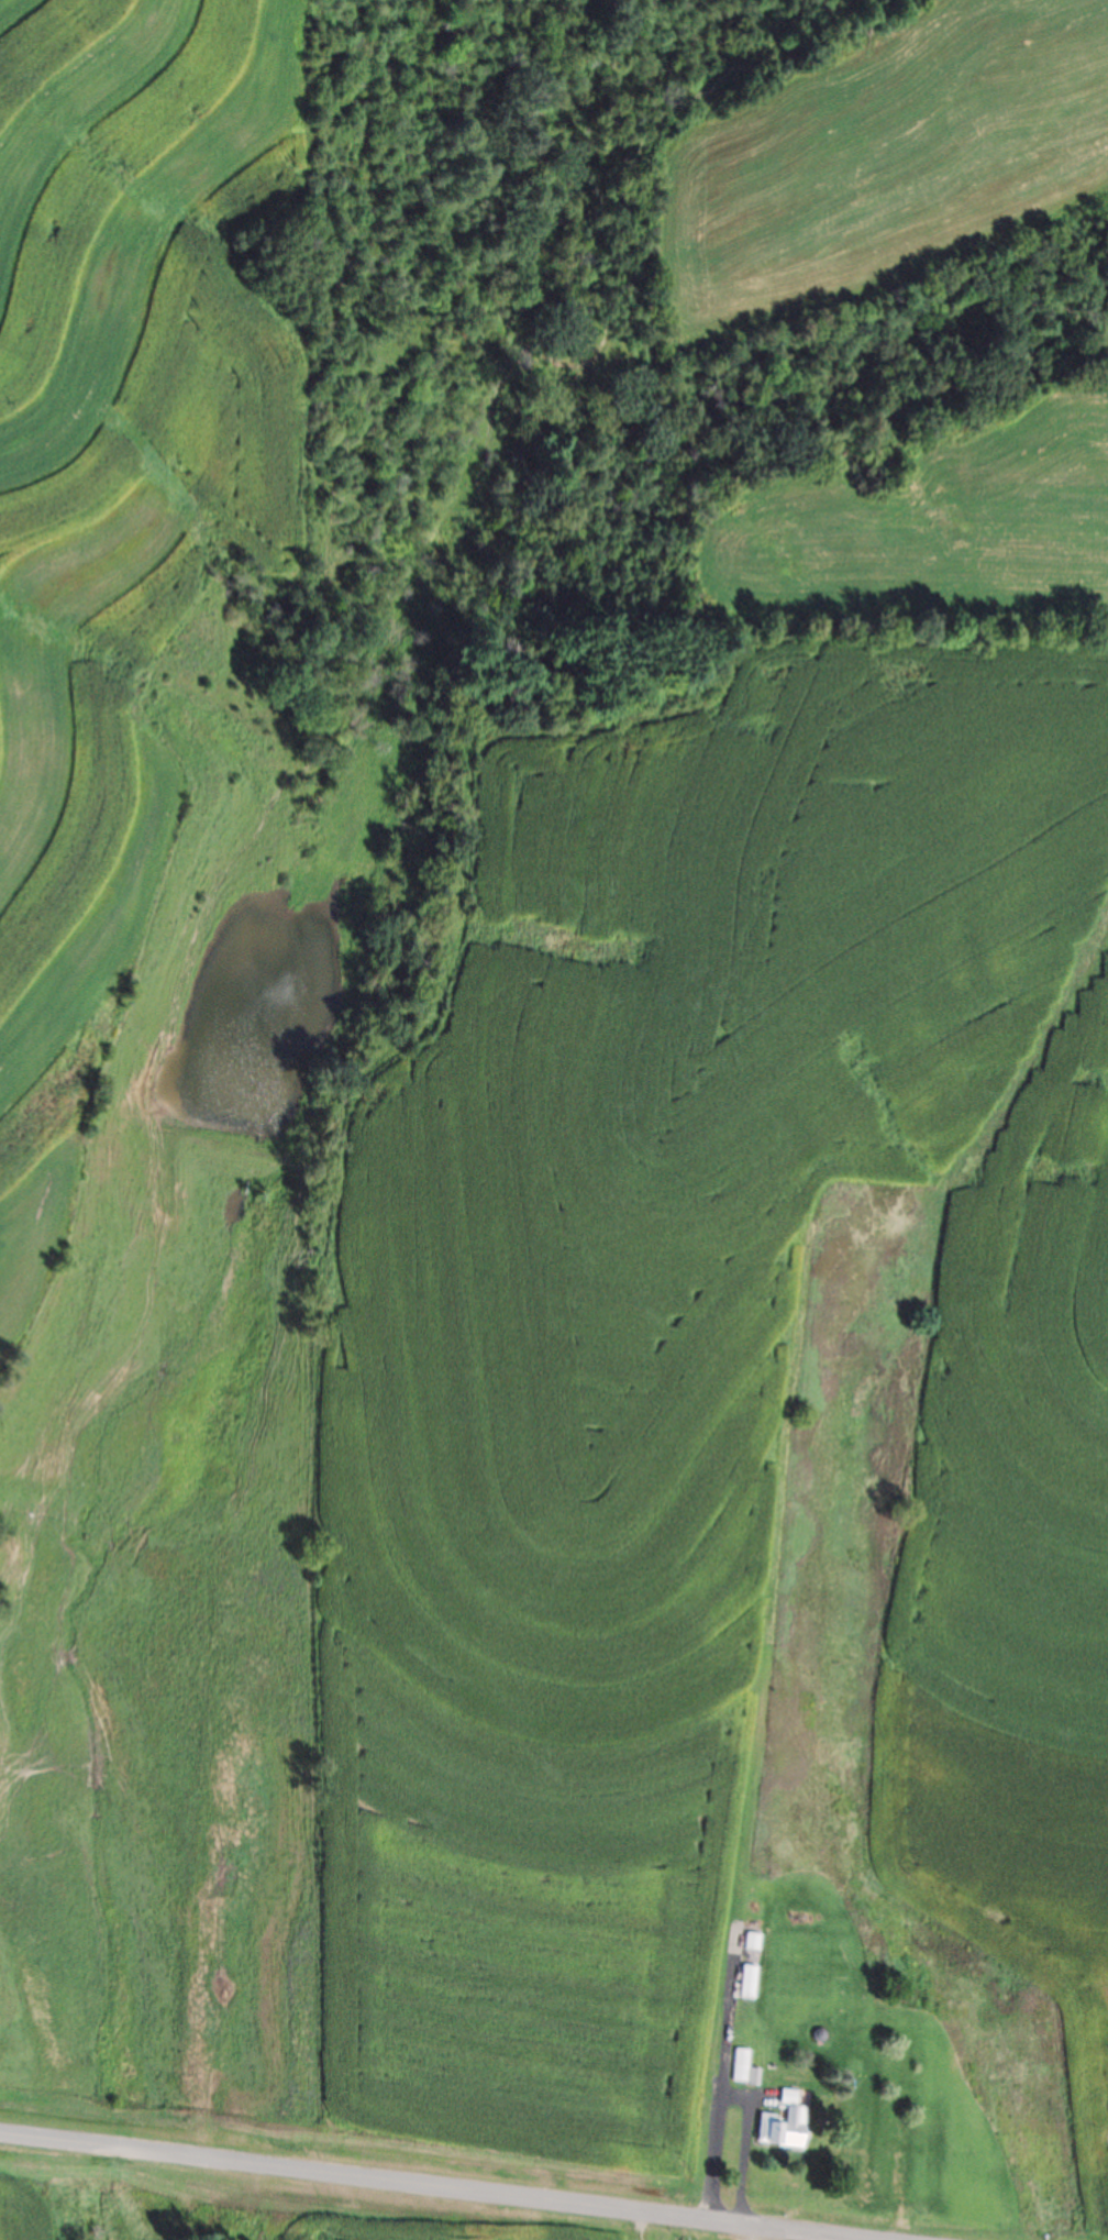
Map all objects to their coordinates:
building: (743, 2065)
building: (786, 2125)
road: (429, 2186)

